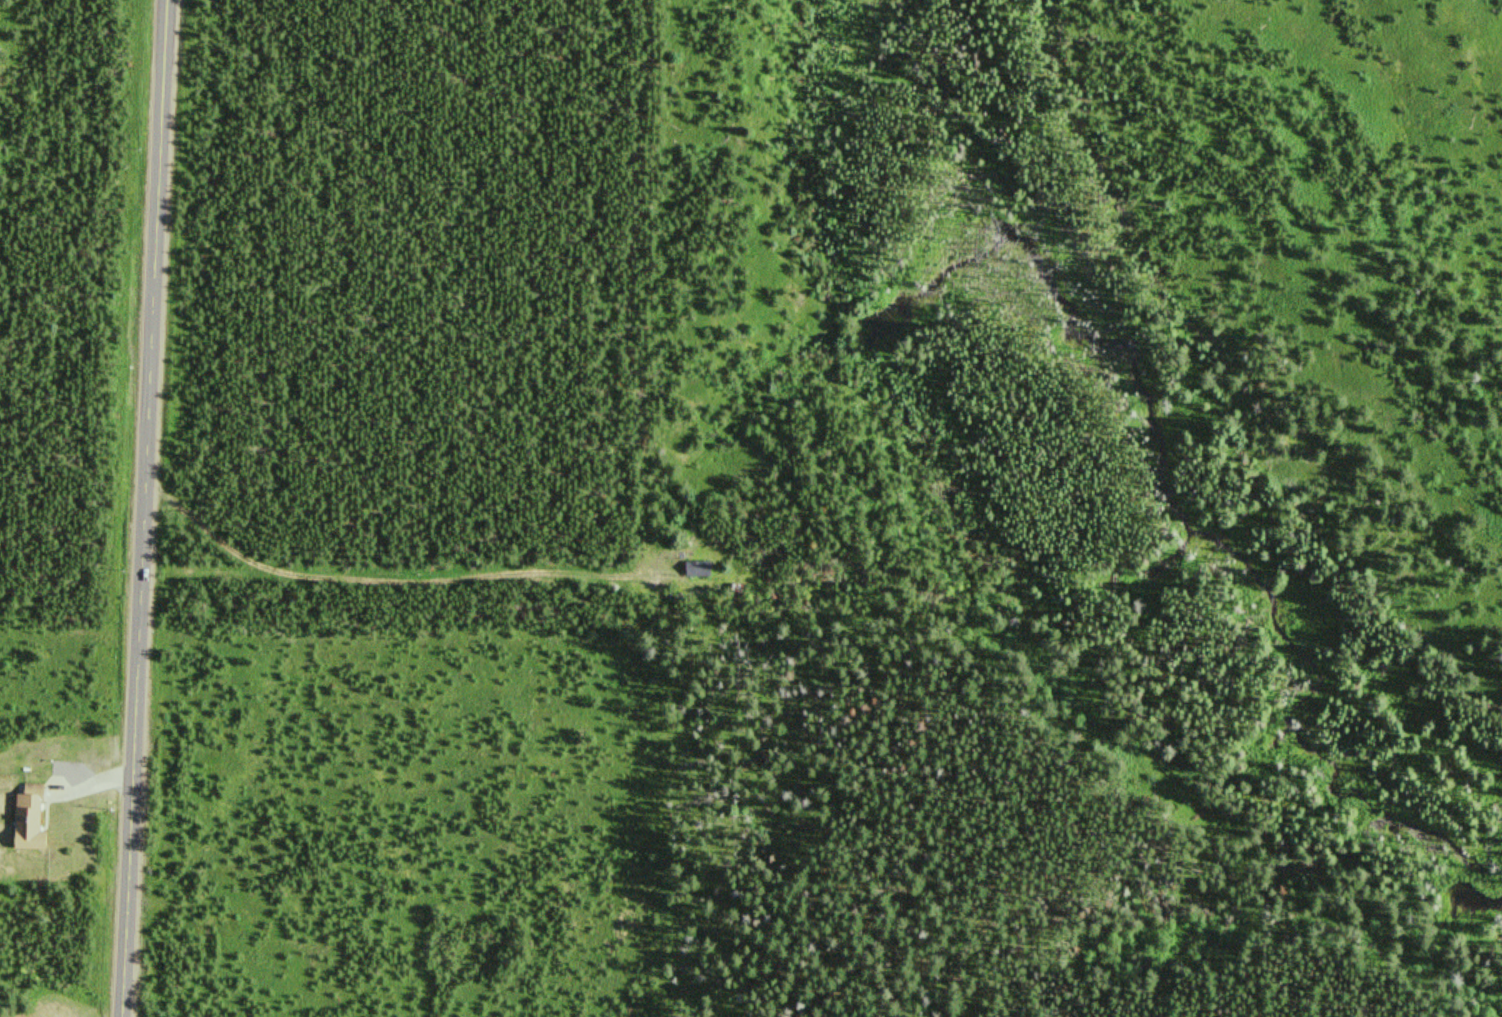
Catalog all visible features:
road: (76, 110)
road: (140, 508)
road: (308, 551)
building: (693, 569)
building: (23, 818)

